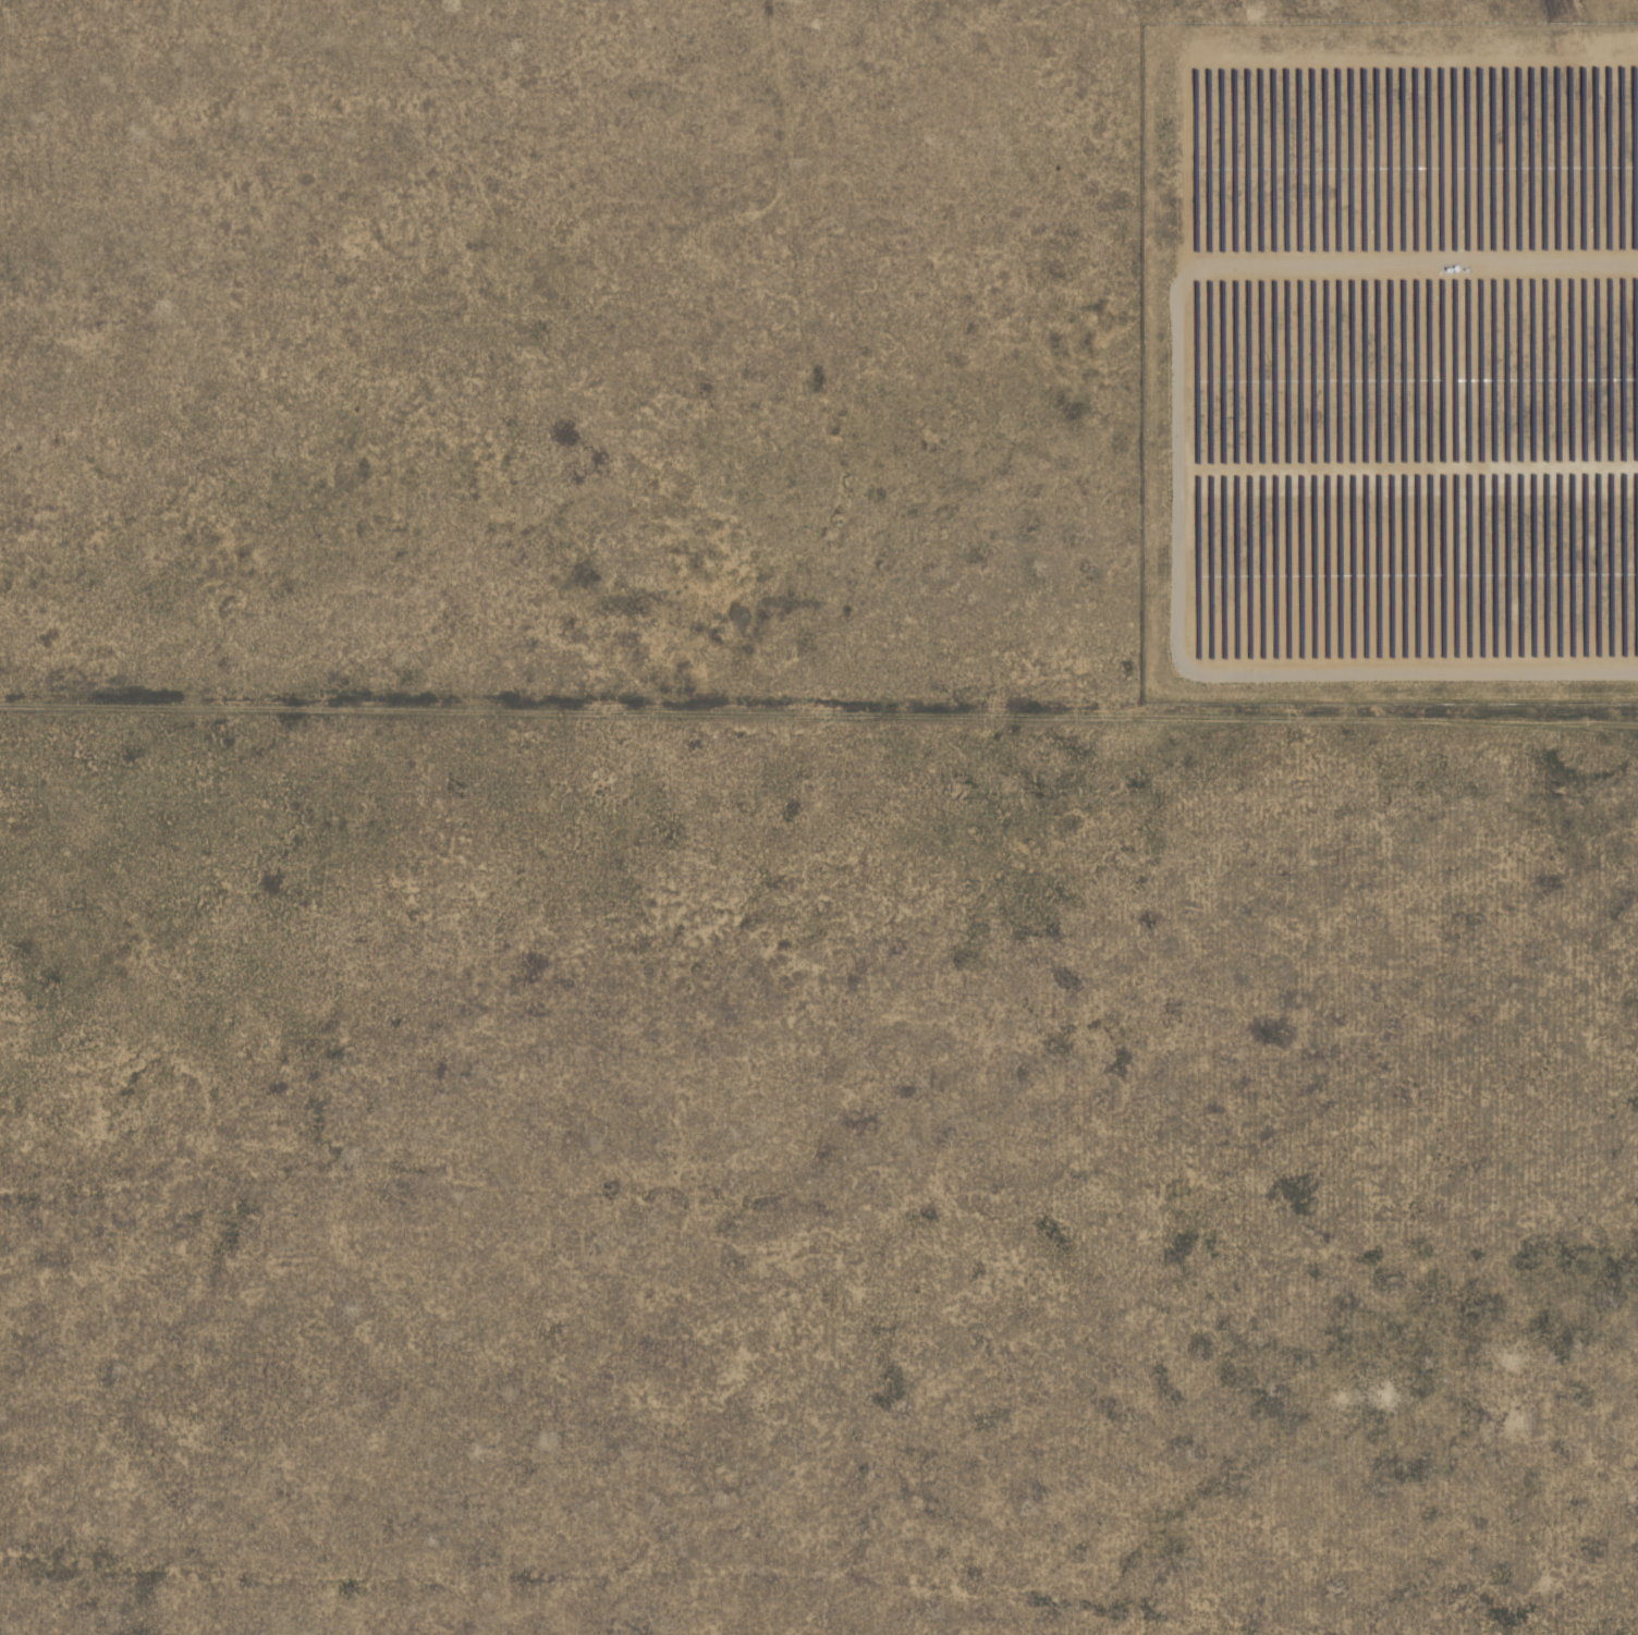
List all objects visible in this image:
solar farm: (1403, 349)
power tower: (1555, 788)
power tower: (462, 793)
power tower: (1036, 793)

